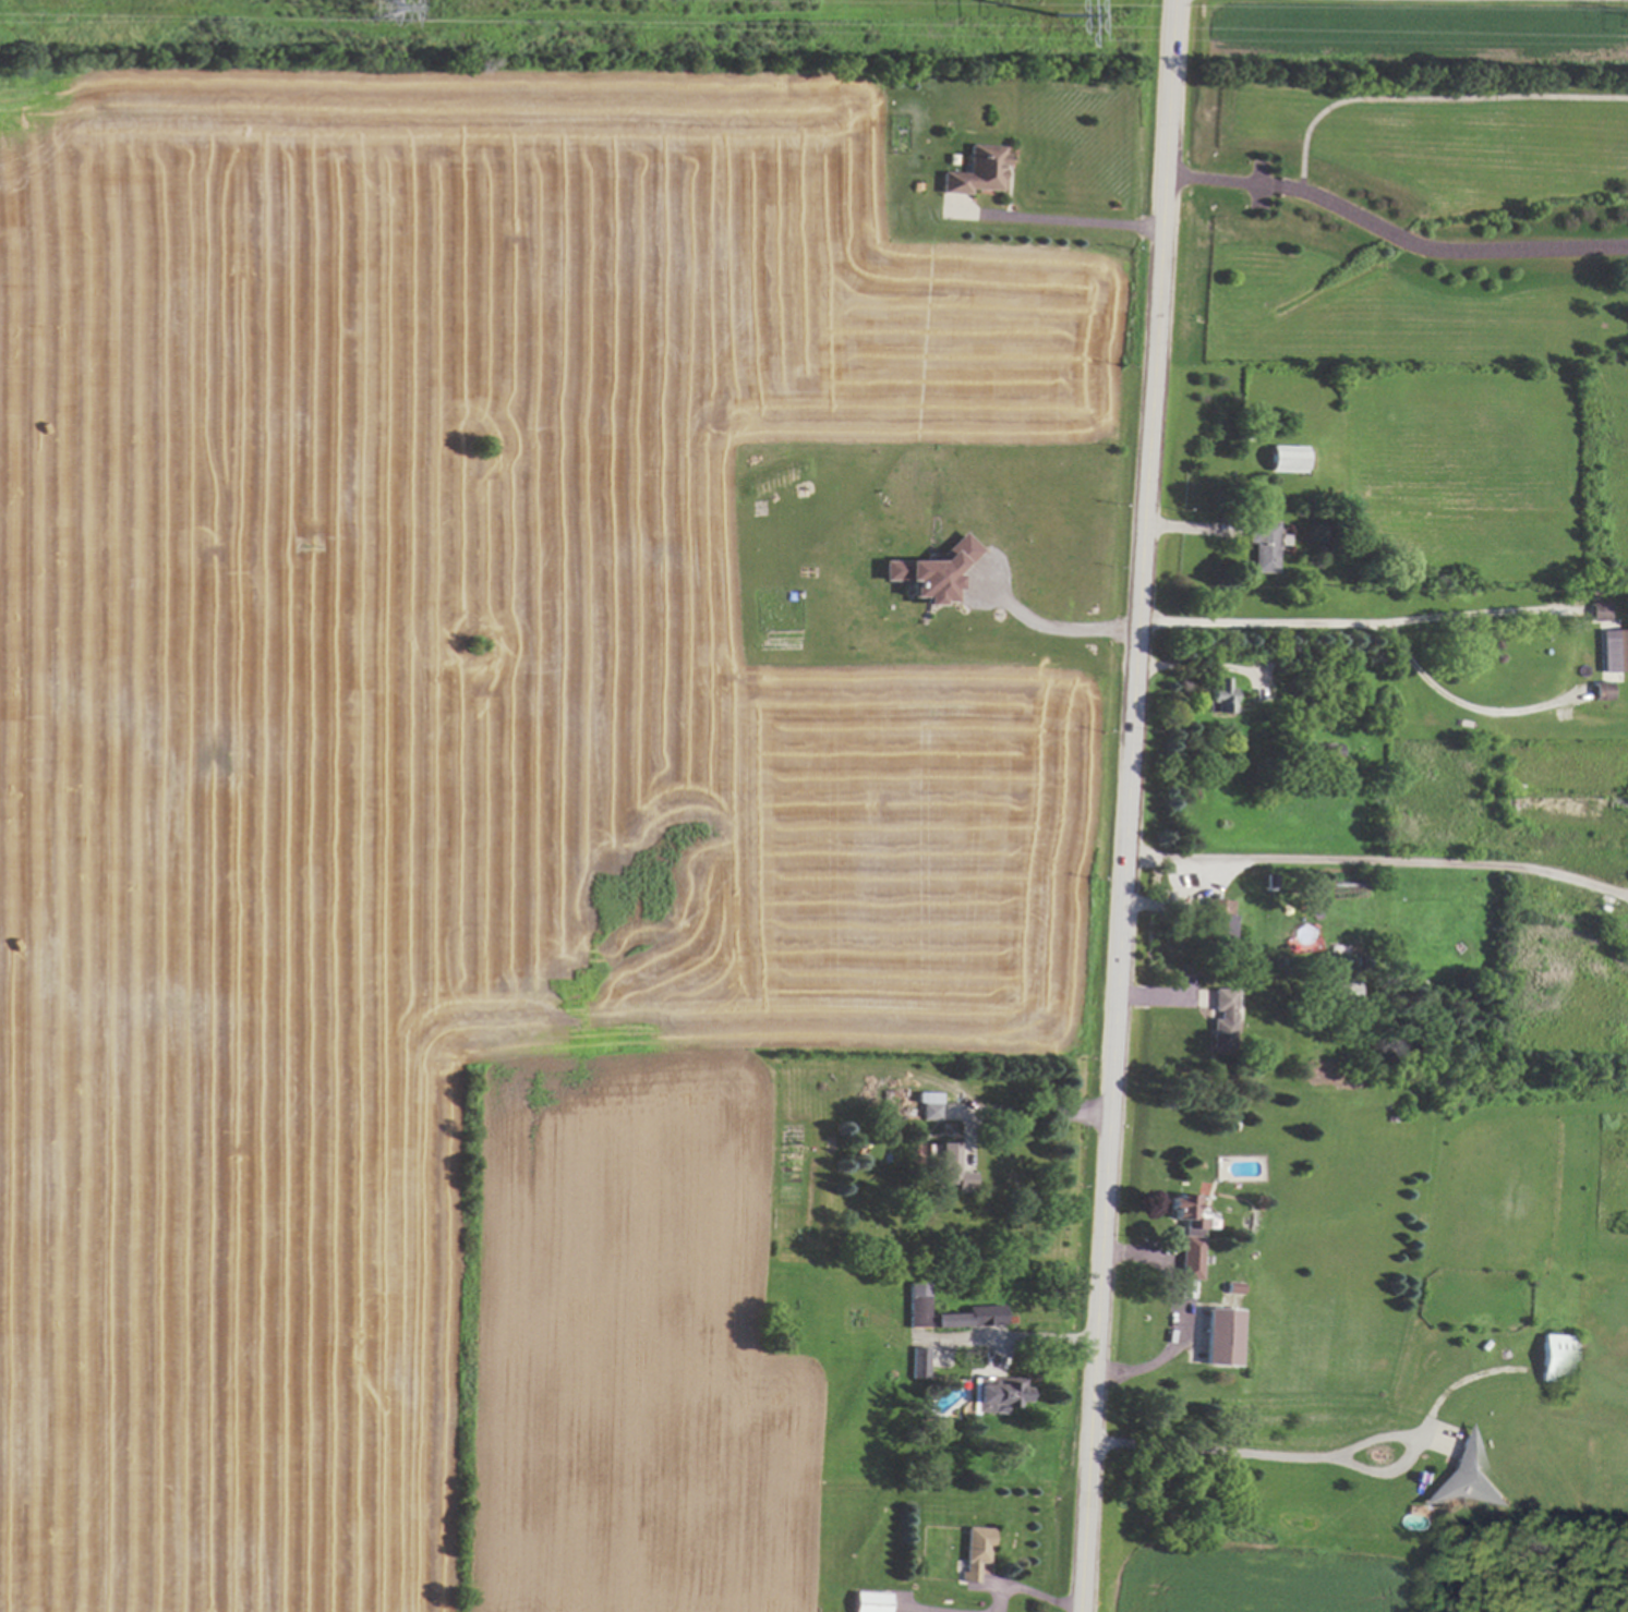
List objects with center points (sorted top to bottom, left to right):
power tower: (363, 20)
power tower: (1057, 29)
building: (974, 171)
road: (1058, 209)
road: (1391, 237)
building: (1286, 458)
building: (1263, 546)
building: (932, 571)
building: (1597, 610)
road: (1051, 616)
road: (1358, 626)
building: (1613, 650)
road: (1194, 662)
building: (1600, 690)
building: (1219, 694)
road: (1450, 700)
road: (1131, 805)
crop: (467, 813)
road: (1380, 861)
building: (1217, 919)
building: (1220, 1020)
building: (926, 1104)
road: (1041, 1117)
building: (951, 1166)
building: (1187, 1234)
building: (915, 1294)
road: (1177, 1314)
building: (1219, 1336)
road: (1016, 1341)
building: (1555, 1357)
building: (920, 1362)
building: (994, 1393)
road: (1239, 1451)
building: (975, 1552)
road: (1029, 1593)
building: (868, 1601)
road: (911, 1611)

